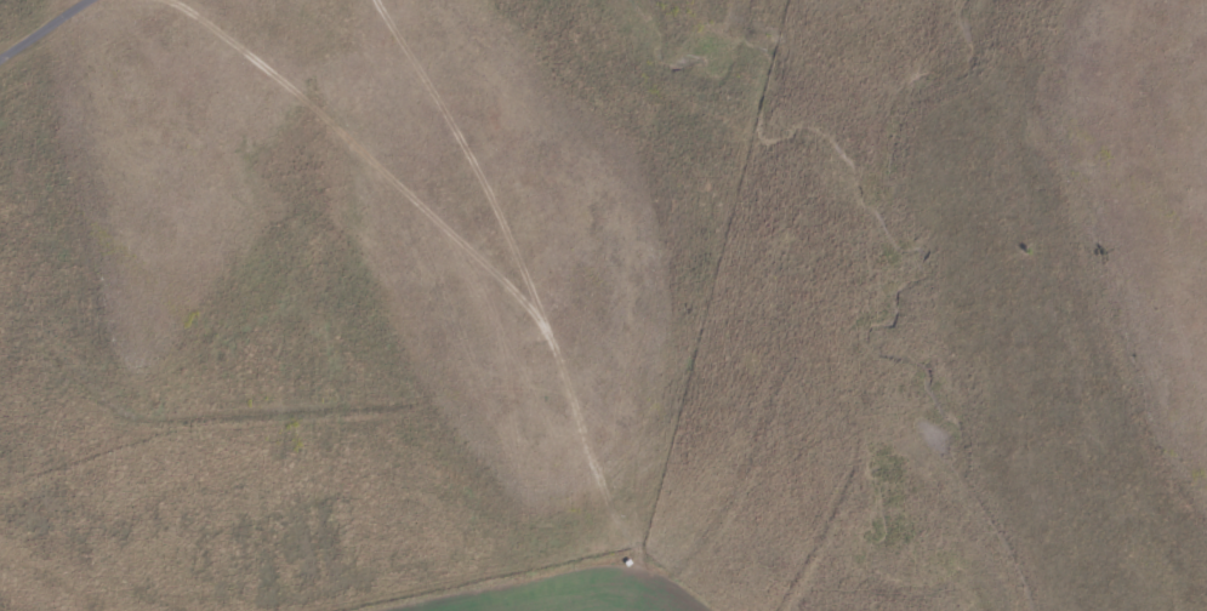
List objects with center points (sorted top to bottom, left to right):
road: (45, 34)

